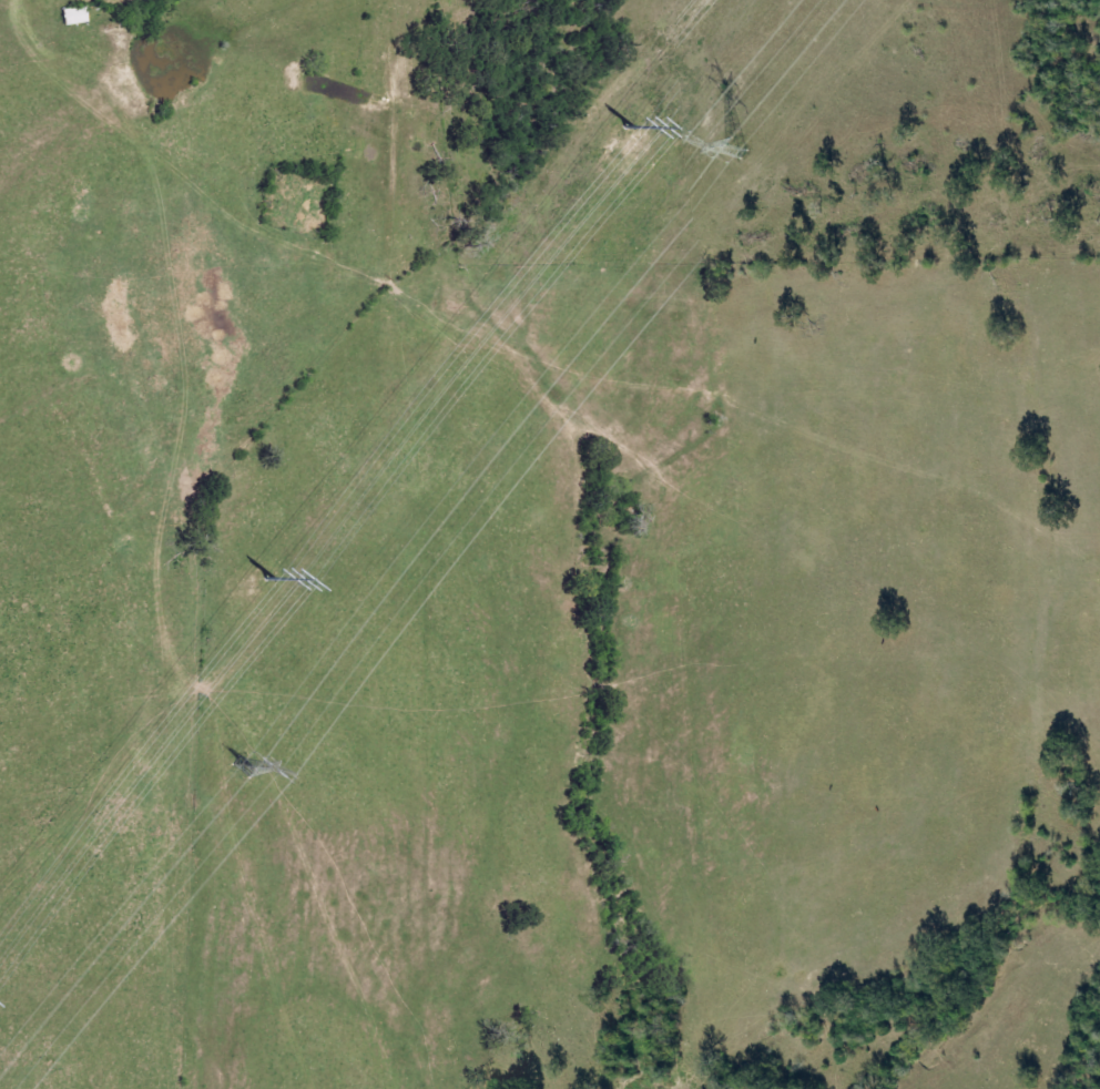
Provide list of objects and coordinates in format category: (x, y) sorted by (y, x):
building: (73, 16)
power tower: (733, 149)
power tower: (238, 769)

